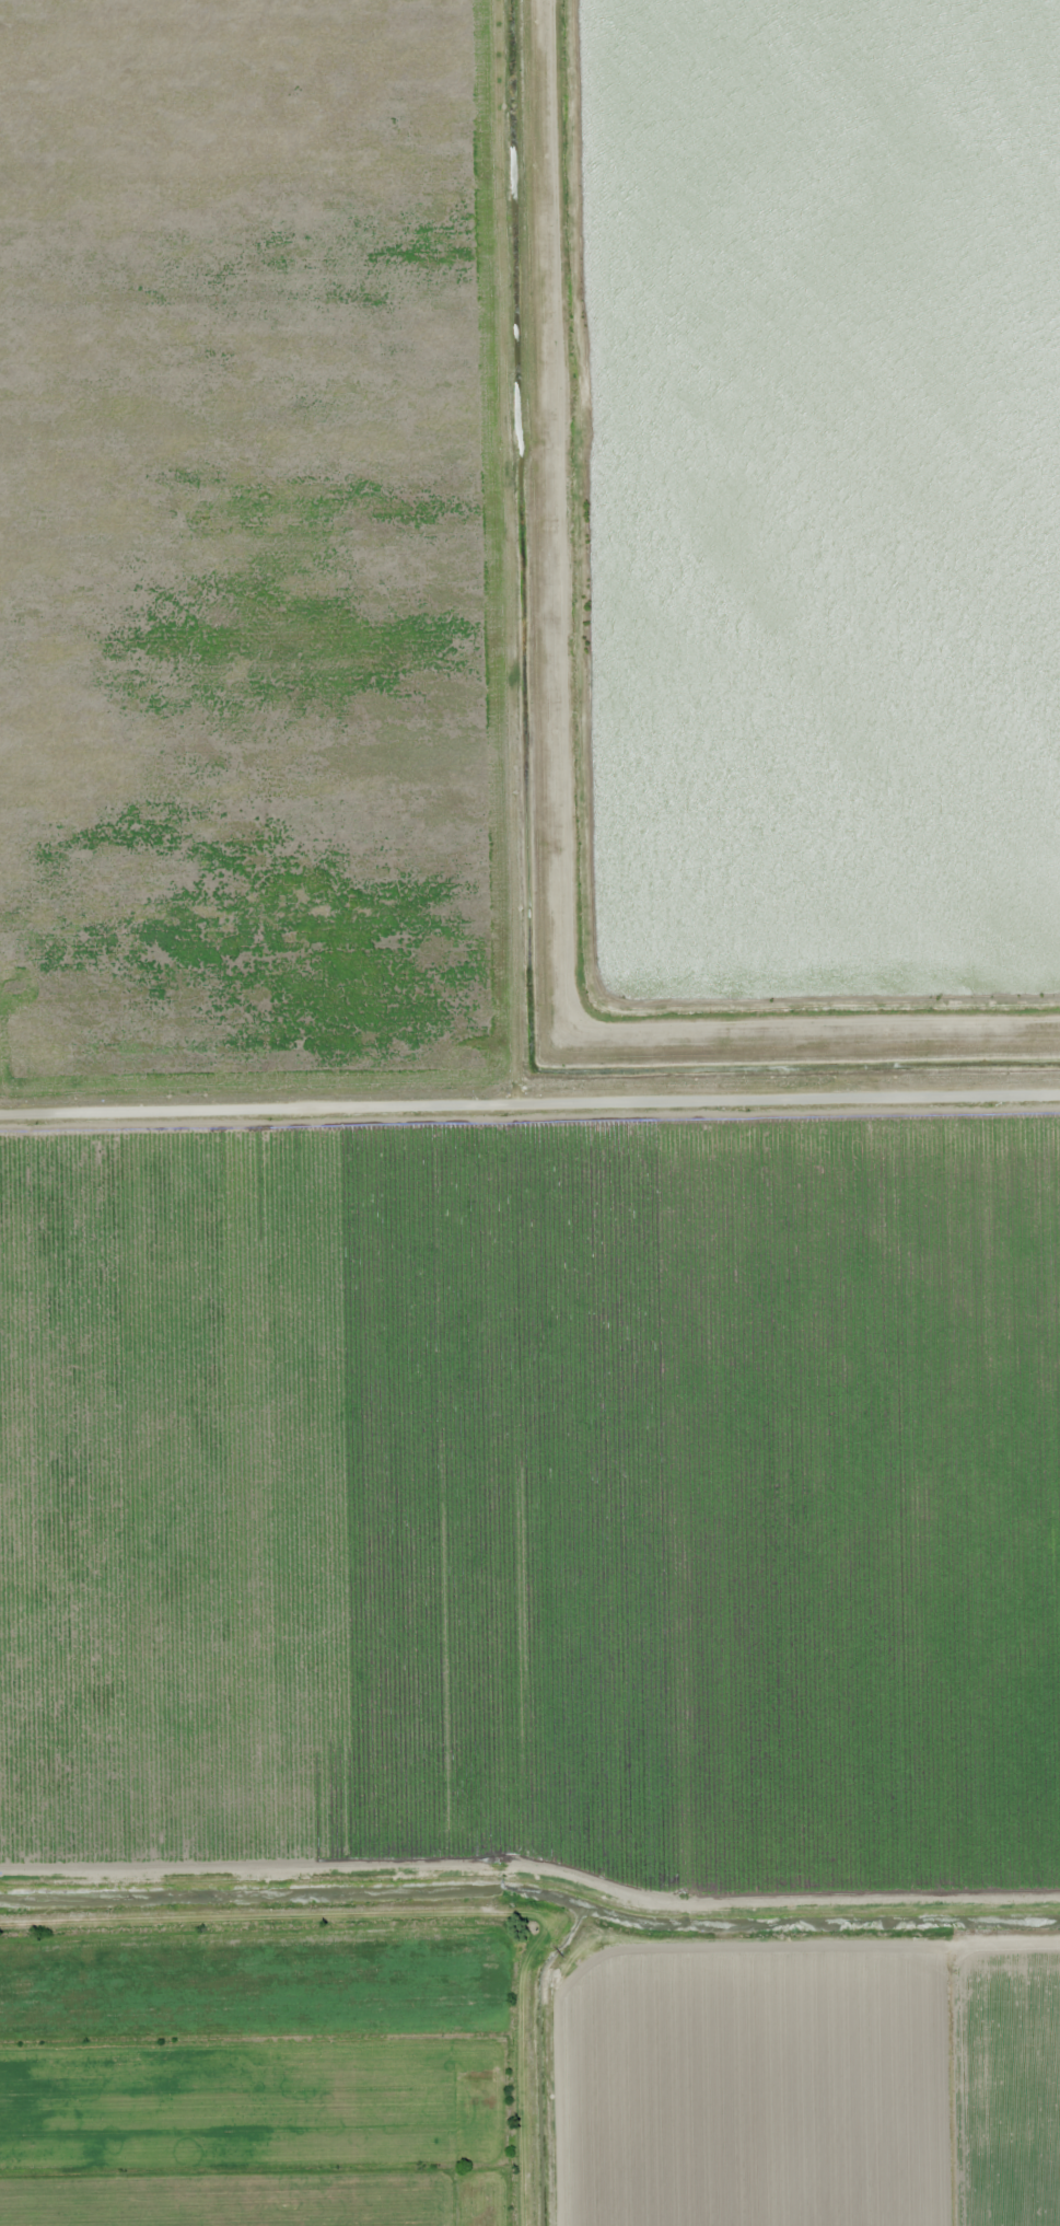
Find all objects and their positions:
road: (529, 1105)

